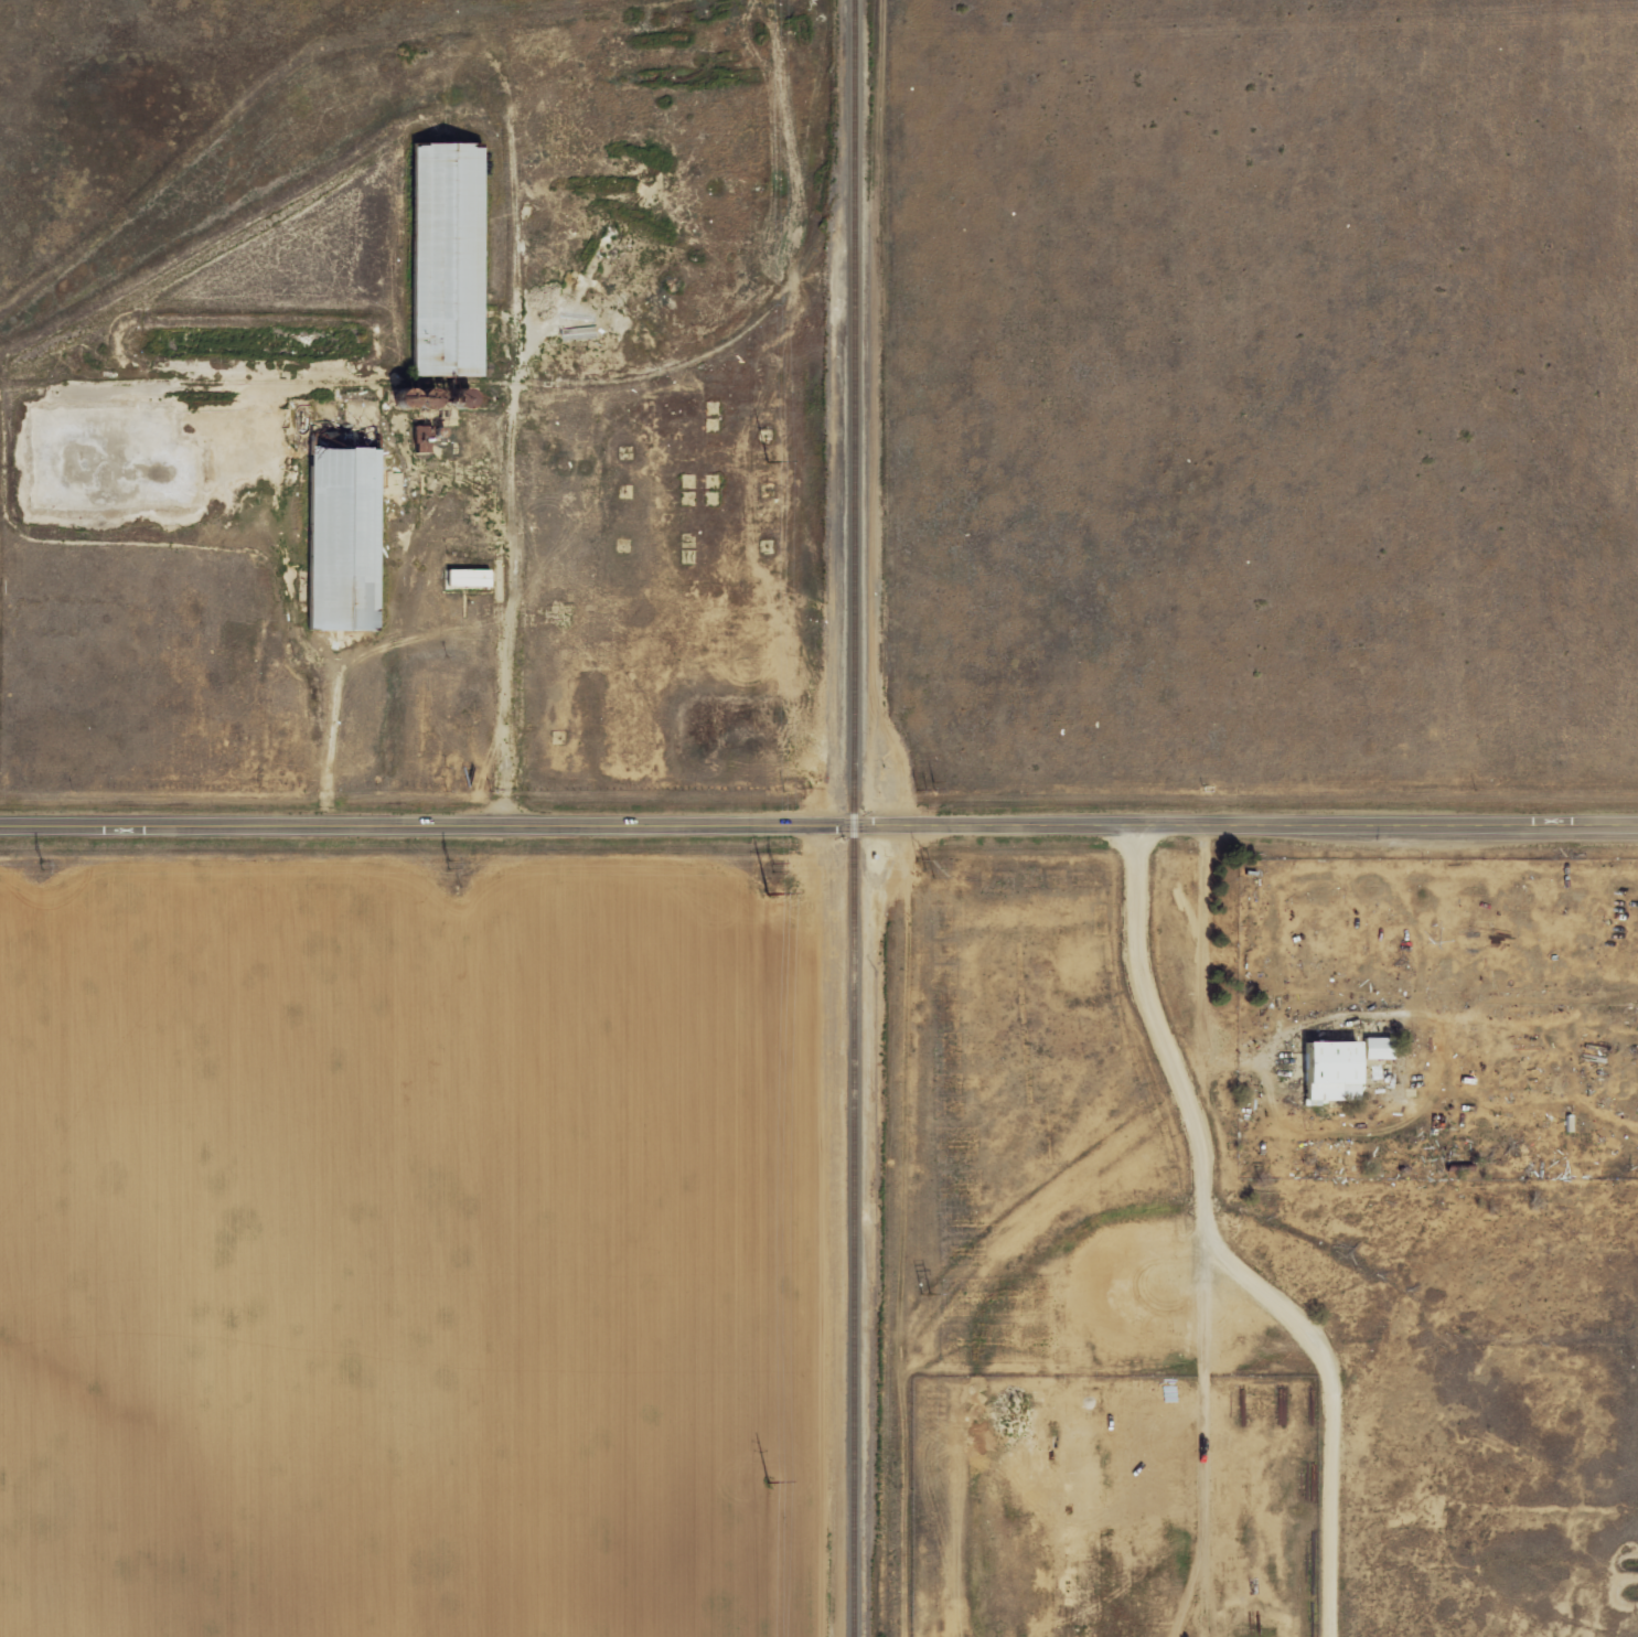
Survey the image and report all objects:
building: (464, 579)
railway: (854, 818)
road: (818, 826)
power tower: (42, 865)
power tower: (450, 866)
power tower: (777, 866)
power tower: (925, 866)
road: (1143, 965)
building: (1373, 1049)
building: (1326, 1071)
road: (1201, 1231)
power tower: (929, 1296)
road: (1331, 1406)

